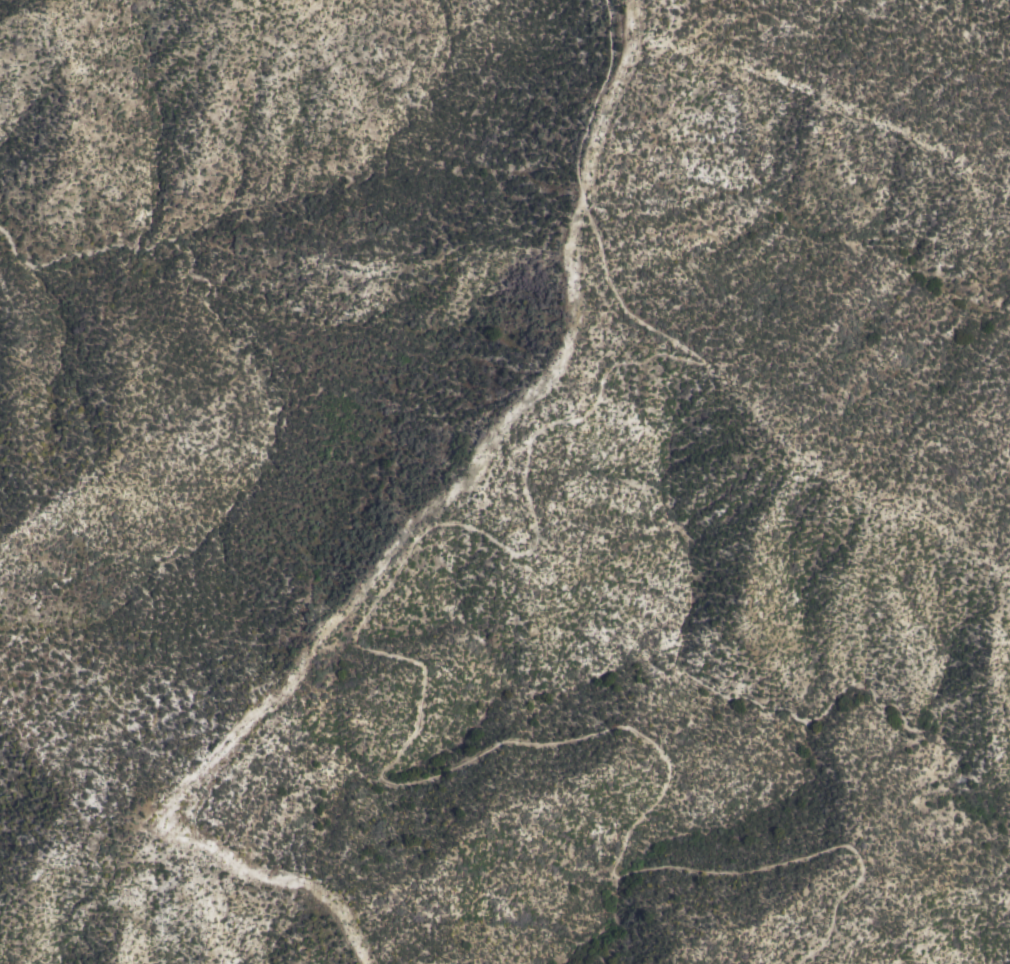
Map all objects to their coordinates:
road: (359, 644)
road: (192, 809)

